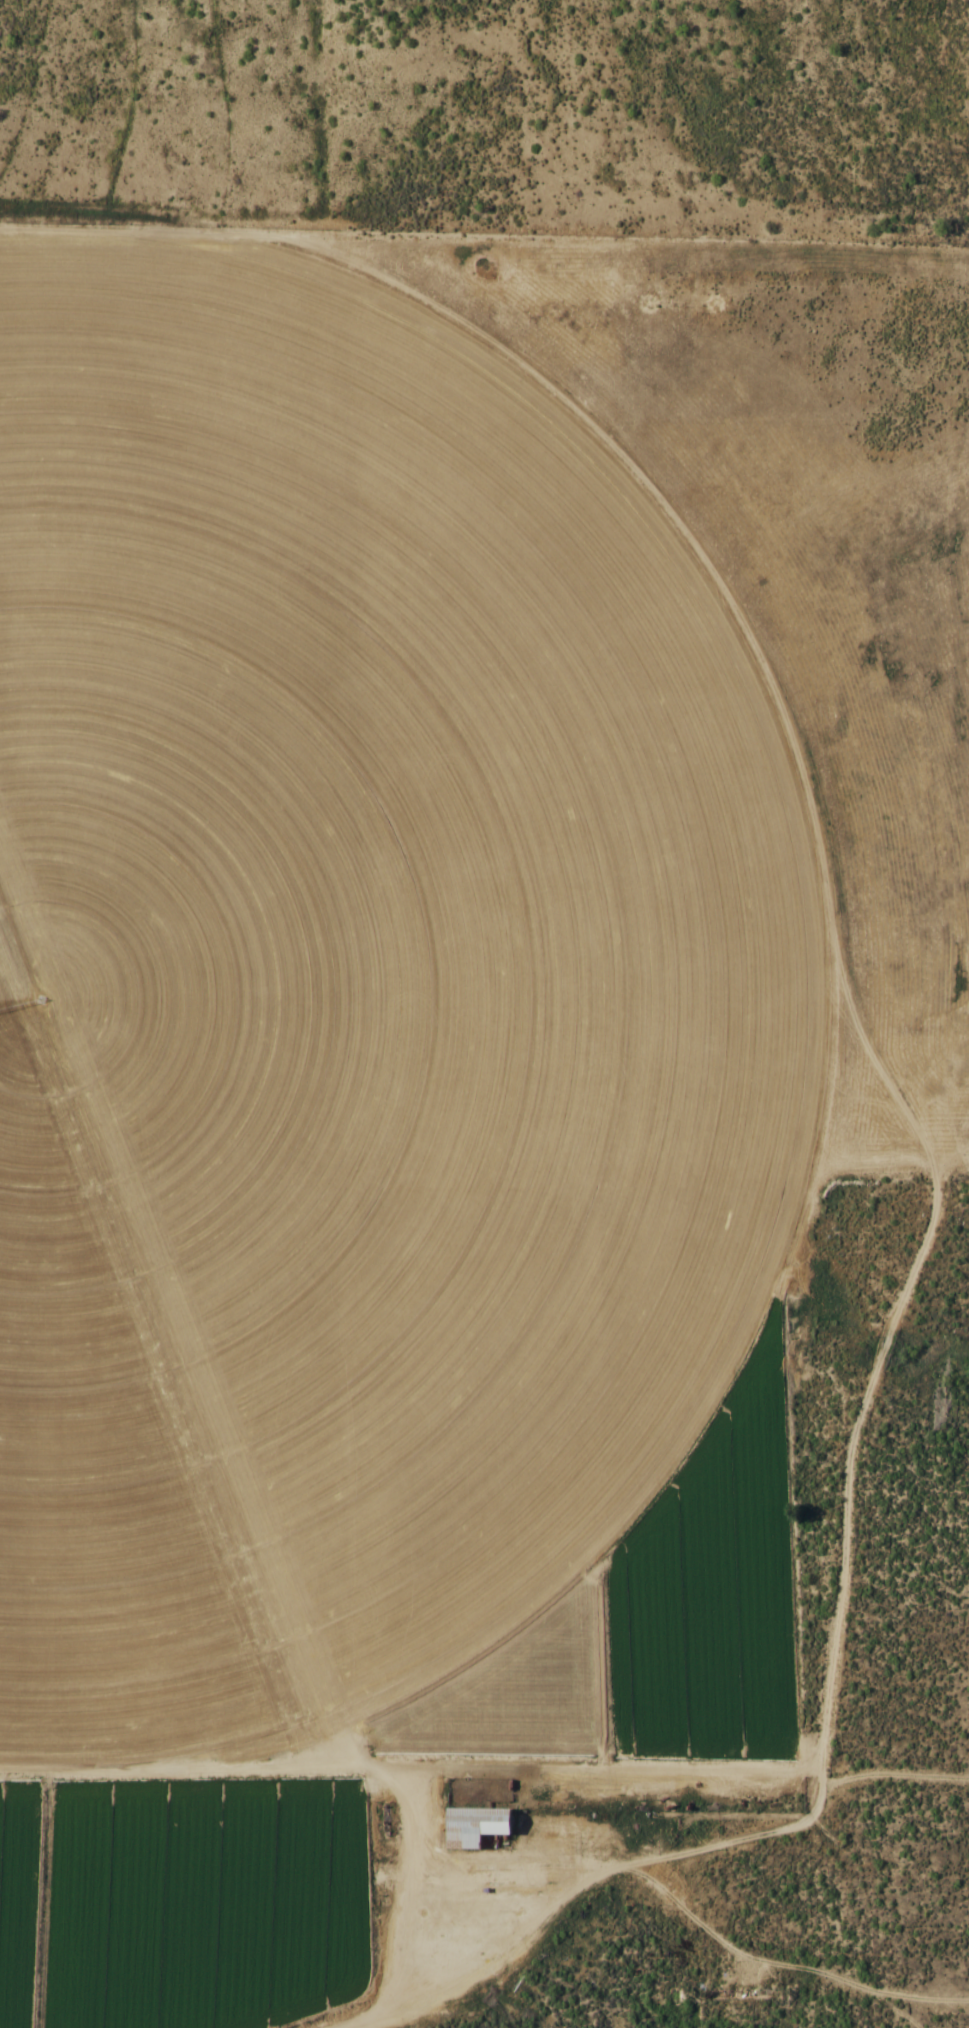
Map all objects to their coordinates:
building: (477, 1827)

